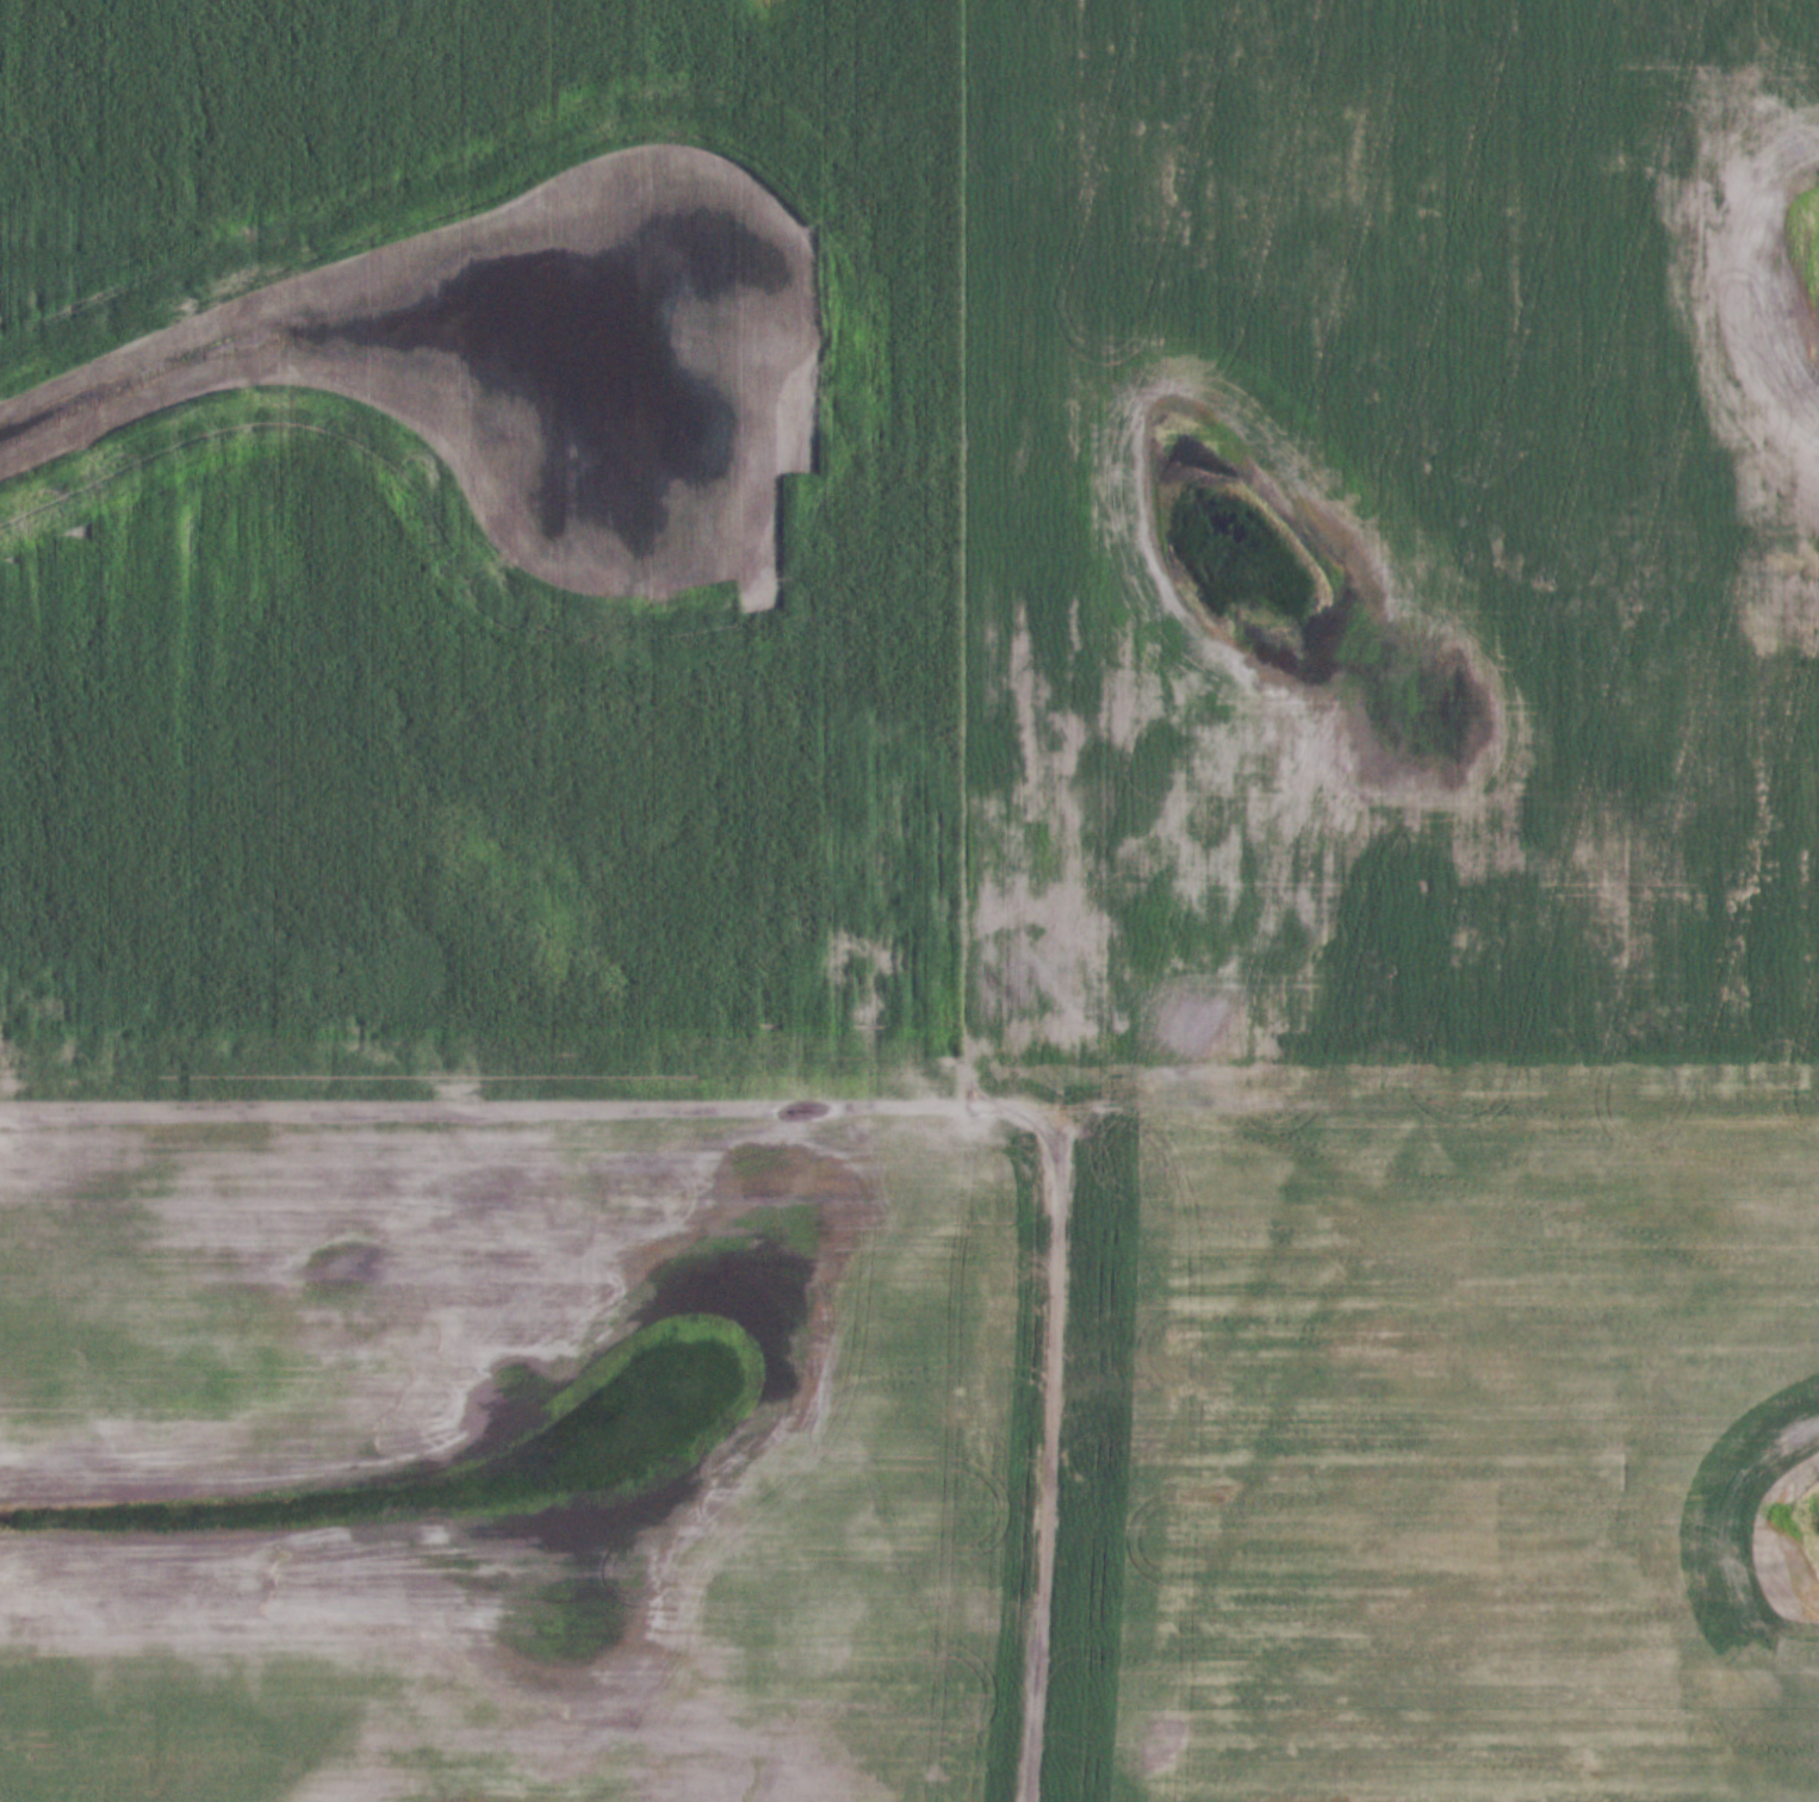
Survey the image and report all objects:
road: (1038, 1475)

